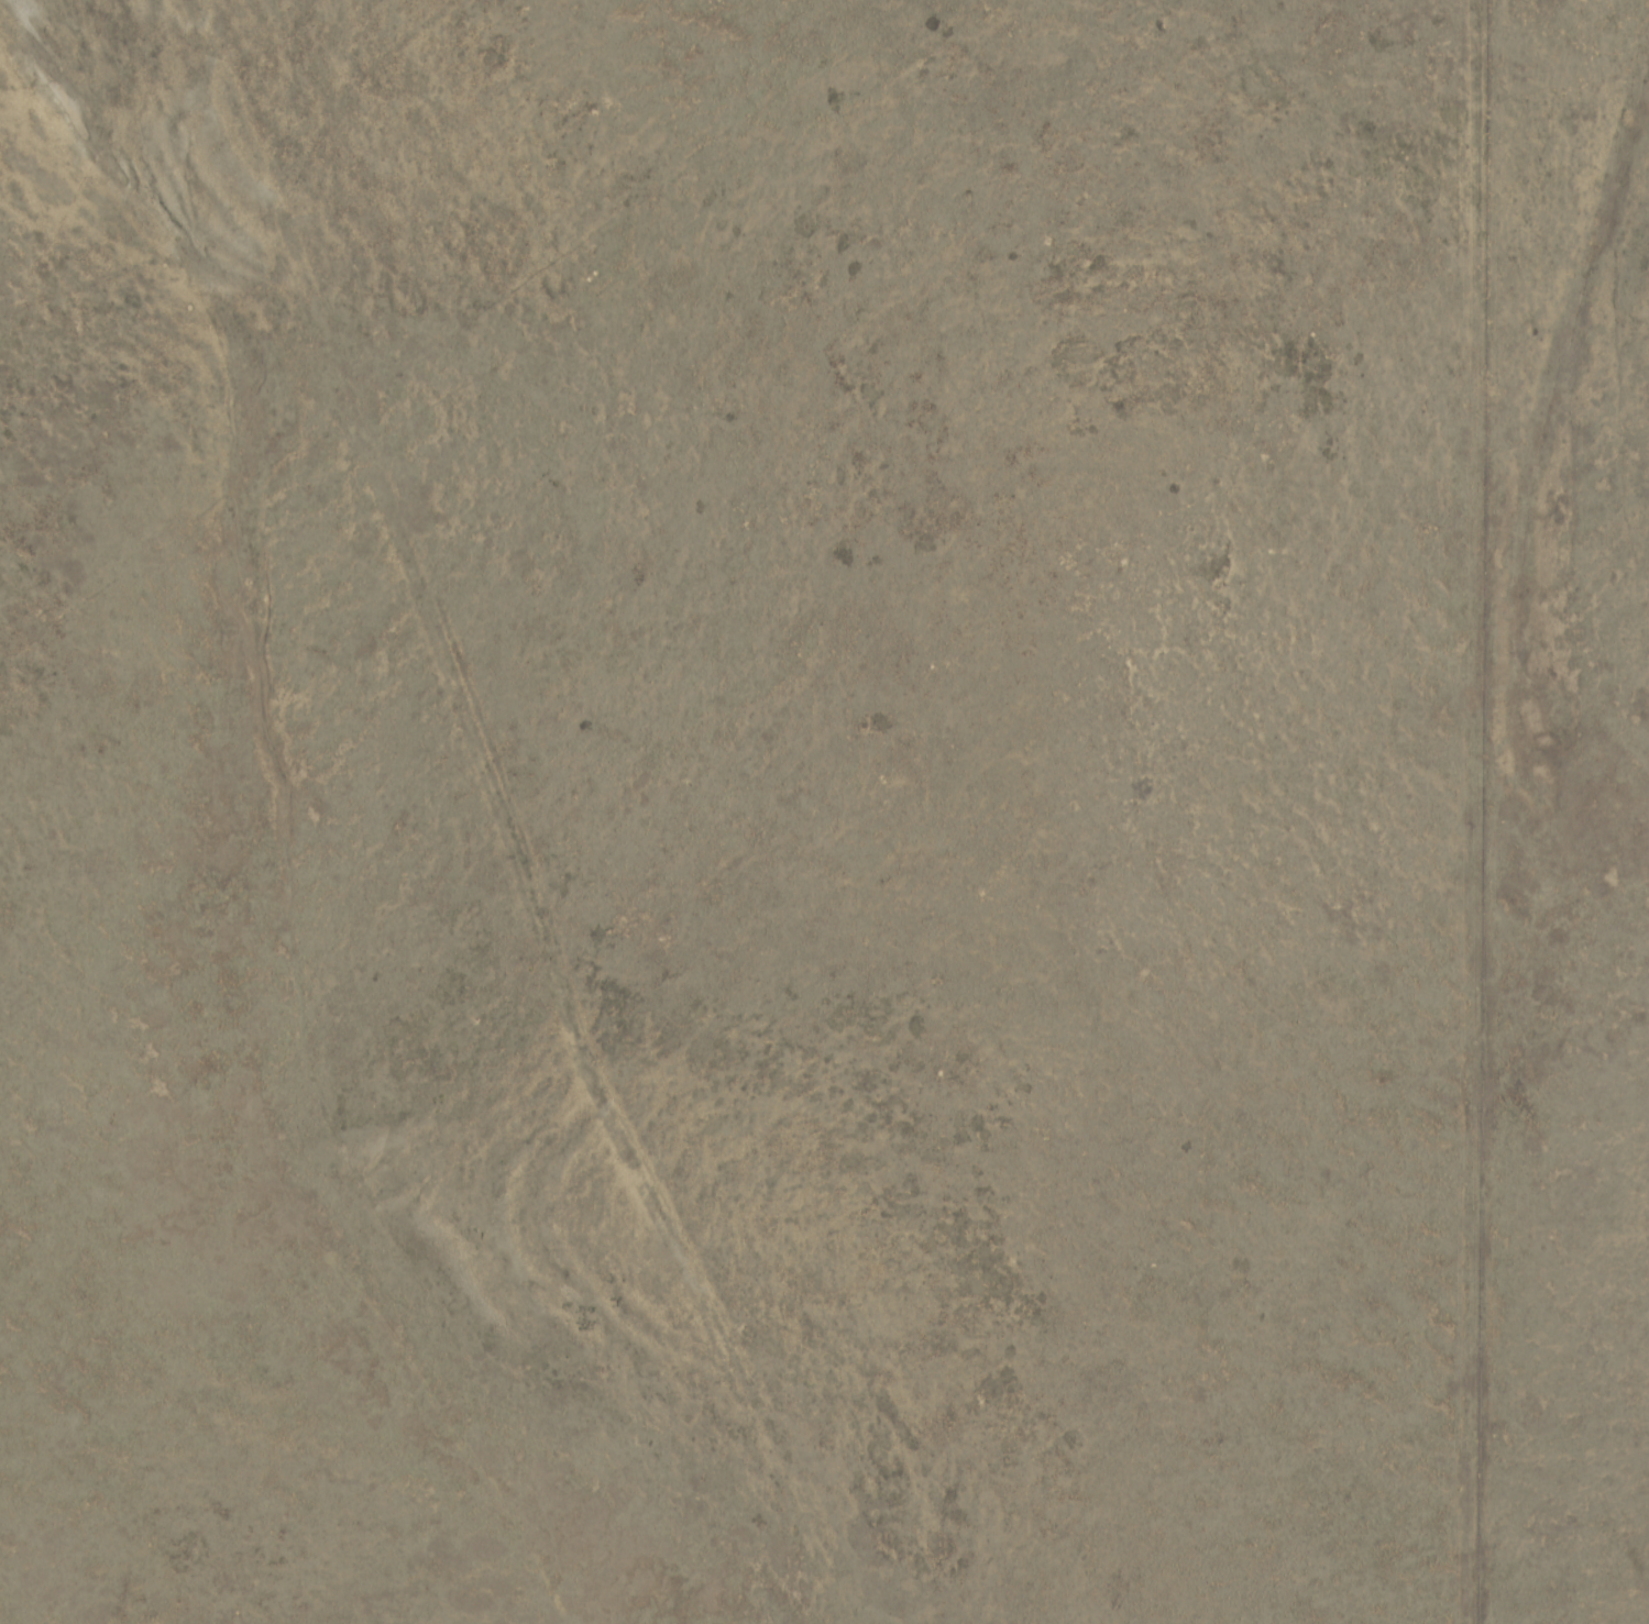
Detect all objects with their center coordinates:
road: (1430, 811)

